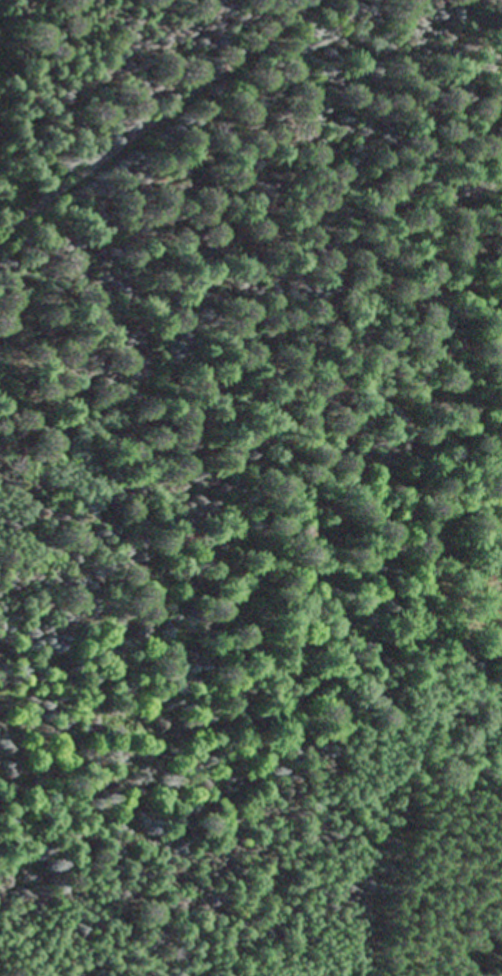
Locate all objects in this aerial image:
road: (151, 113)

